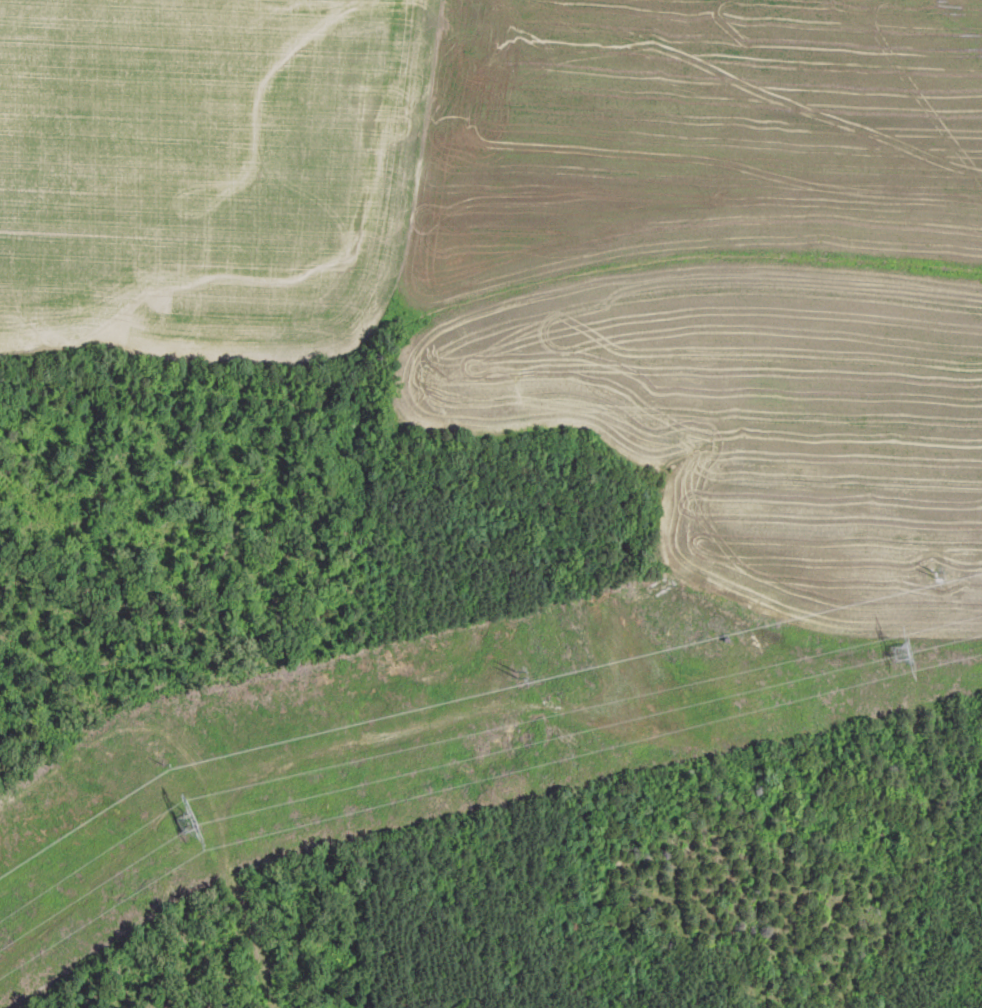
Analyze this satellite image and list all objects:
power tower: (898, 651)
power tower: (181, 819)

